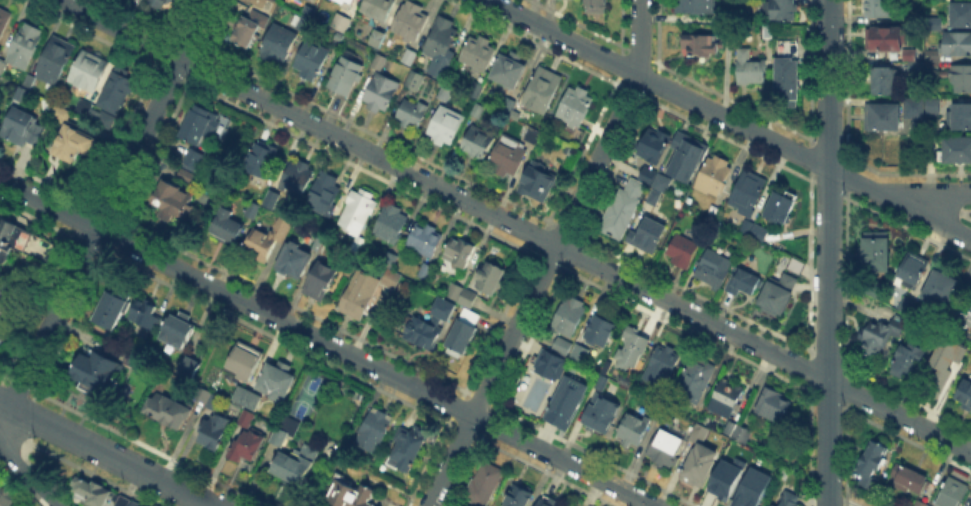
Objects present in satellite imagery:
building: (936, 0)
building: (346, 3)
building: (164, 4)
building: (597, 4)
building: (696, 6)
building: (879, 8)
building: (376, 9)
building: (781, 10)
building: (962, 17)
building: (914, 18)
building: (306, 19)
building: (4, 21)
building: (410, 22)
building: (341, 24)
building: (937, 26)
building: (247, 29)
building: (377, 39)
building: (883, 40)
building: (280, 42)
building: (957, 44)
building: (442, 46)
building: (701, 46)
building: (25, 47)
building: (478, 53)
building: (918, 54)
building: (907, 55)
building: (409, 58)
building: (312, 60)
building: (56, 61)
building: (932, 61)
building: (379, 62)
building: (902, 65)
building: (2, 66)
building: (915, 67)
building: (751, 69)
building: (787, 69)
building: (509, 70)
building: (88, 73)
building: (345, 76)
building: (27, 80)
building: (415, 80)
building: (962, 80)
building: (883, 81)
building: (475, 87)
building: (541, 89)
building: (441, 91)
building: (380, 92)
building: (20, 93)
building: (115, 96)
building: (86, 106)
building: (506, 107)
building: (473, 108)
building: (576, 108)
building: (903, 113)
building: (411, 115)
building: (961, 118)
road: (730, 119)
building: (198, 125)
building: (18, 127)
building: (446, 128)
building: (531, 135)
building: (72, 137)
building: (478, 144)
building: (653, 144)
building: (958, 151)
building: (508, 157)
building: (191, 159)
building: (688, 160)
building: (263, 161)
building: (184, 173)
building: (646, 174)
building: (533, 176)
building: (714, 177)
building: (299, 178)
building: (664, 182)
building: (325, 190)
building: (747, 194)
building: (272, 195)
road: (942, 198)
building: (653, 199)
building: (175, 203)
road: (106, 204)
building: (622, 207)
building: (781, 207)
building: (253, 210)
building: (359, 211)
building: (391, 223)
road: (514, 226)
building: (743, 227)
building: (228, 228)
building: (759, 232)
building: (647, 237)
building: (268, 241)
building: (425, 241)
building: (358, 246)
building: (11, 249)
building: (682, 251)
building: (876, 251)
building: (459, 252)
road: (827, 252)
road: (549, 257)
building: (388, 260)
building: (295, 261)
building: (797, 265)
building: (715, 270)
building: (912, 270)
building: (426, 272)
building: (492, 276)
building: (392, 281)
building: (321, 282)
building: (744, 283)
building: (452, 290)
building: (941, 290)
building: (358, 295)
building: (780, 295)
building: (467, 297)
building: (905, 303)
building: (444, 309)
building: (113, 310)
building: (145, 316)
building: (569, 316)
building: (961, 319)
building: (970, 321)
building: (597, 328)
building: (176, 331)
building: (463, 332)
building: (422, 333)
building: (880, 334)
road: (327, 344)
building: (559, 344)
building: (632, 349)
building: (576, 351)
building: (908, 359)
building: (943, 359)
building: (132, 362)
building: (244, 363)
building: (547, 363)
building: (190, 366)
building: (660, 370)
building: (95, 373)
building: (276, 381)
building: (694, 381)
building: (964, 392)
building: (201, 393)
building: (724, 398)
building: (246, 400)
building: (563, 402)
building: (775, 405)
building: (168, 411)
building: (601, 415)
building: (245, 419)
building: (215, 425)
building: (729, 426)
building: (634, 428)
building: (374, 430)
building: (698, 433)
building: (744, 435)
building: (277, 438)
building: (249, 445)
building: (408, 446)
building: (667, 448)
road: (105, 454)
building: (348, 456)
road: (18, 463)
building: (697, 464)
building: (298, 467)
building: (871, 468)
building: (724, 475)
building: (910, 481)
building: (485, 485)
building: (749, 487)
building: (952, 493)
building: (351, 494)
building: (92, 495)
building: (521, 497)
building: (6, 498)
building: (790, 499)
building: (122, 503)
building: (134, 503)
building: (547, 503)
building: (919, 504)

